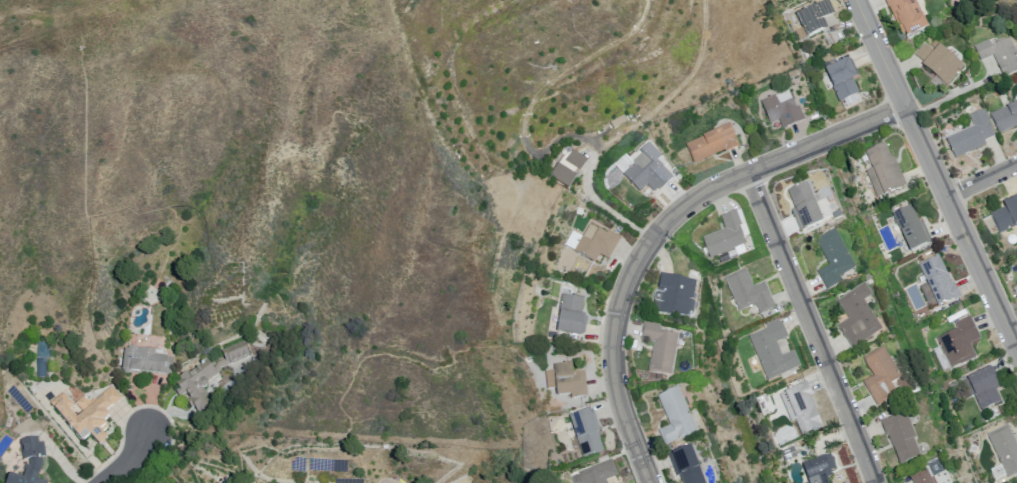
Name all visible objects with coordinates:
building: (908, 17)
building: (816, 18)
building: (1001, 55)
building: (941, 64)
building: (841, 83)
road: (956, 95)
building: (782, 112)
building: (1006, 117)
building: (973, 136)
building: (713, 142)
building: (569, 167)
building: (649, 169)
building: (886, 170)
road: (936, 174)
road: (982, 180)
building: (805, 208)
road: (610, 209)
building: (1007, 217)
building: (914, 229)
road: (667, 231)
building: (726, 236)
building: (595, 242)
building: (833, 263)
building: (940, 282)
building: (1016, 282)
building: (750, 292)
building: (676, 295)
building: (572, 316)
building: (859, 319)
road: (813, 327)
building: (961, 343)
building: (661, 349)
building: (773, 352)
building: (234, 353)
building: (142, 363)
building: (883, 378)
building: (192, 383)
building: (565, 384)
building: (986, 389)
building: (802, 409)
building: (87, 415)
building: (675, 417)
building: (585, 437)
building: (903, 440)
building: (1004, 453)
building: (32, 454)
building: (790, 454)
road: (124, 458)
building: (685, 468)
building: (820, 470)
road: (139, 471)
building: (594, 472)
building: (20, 479)
building: (922, 479)

